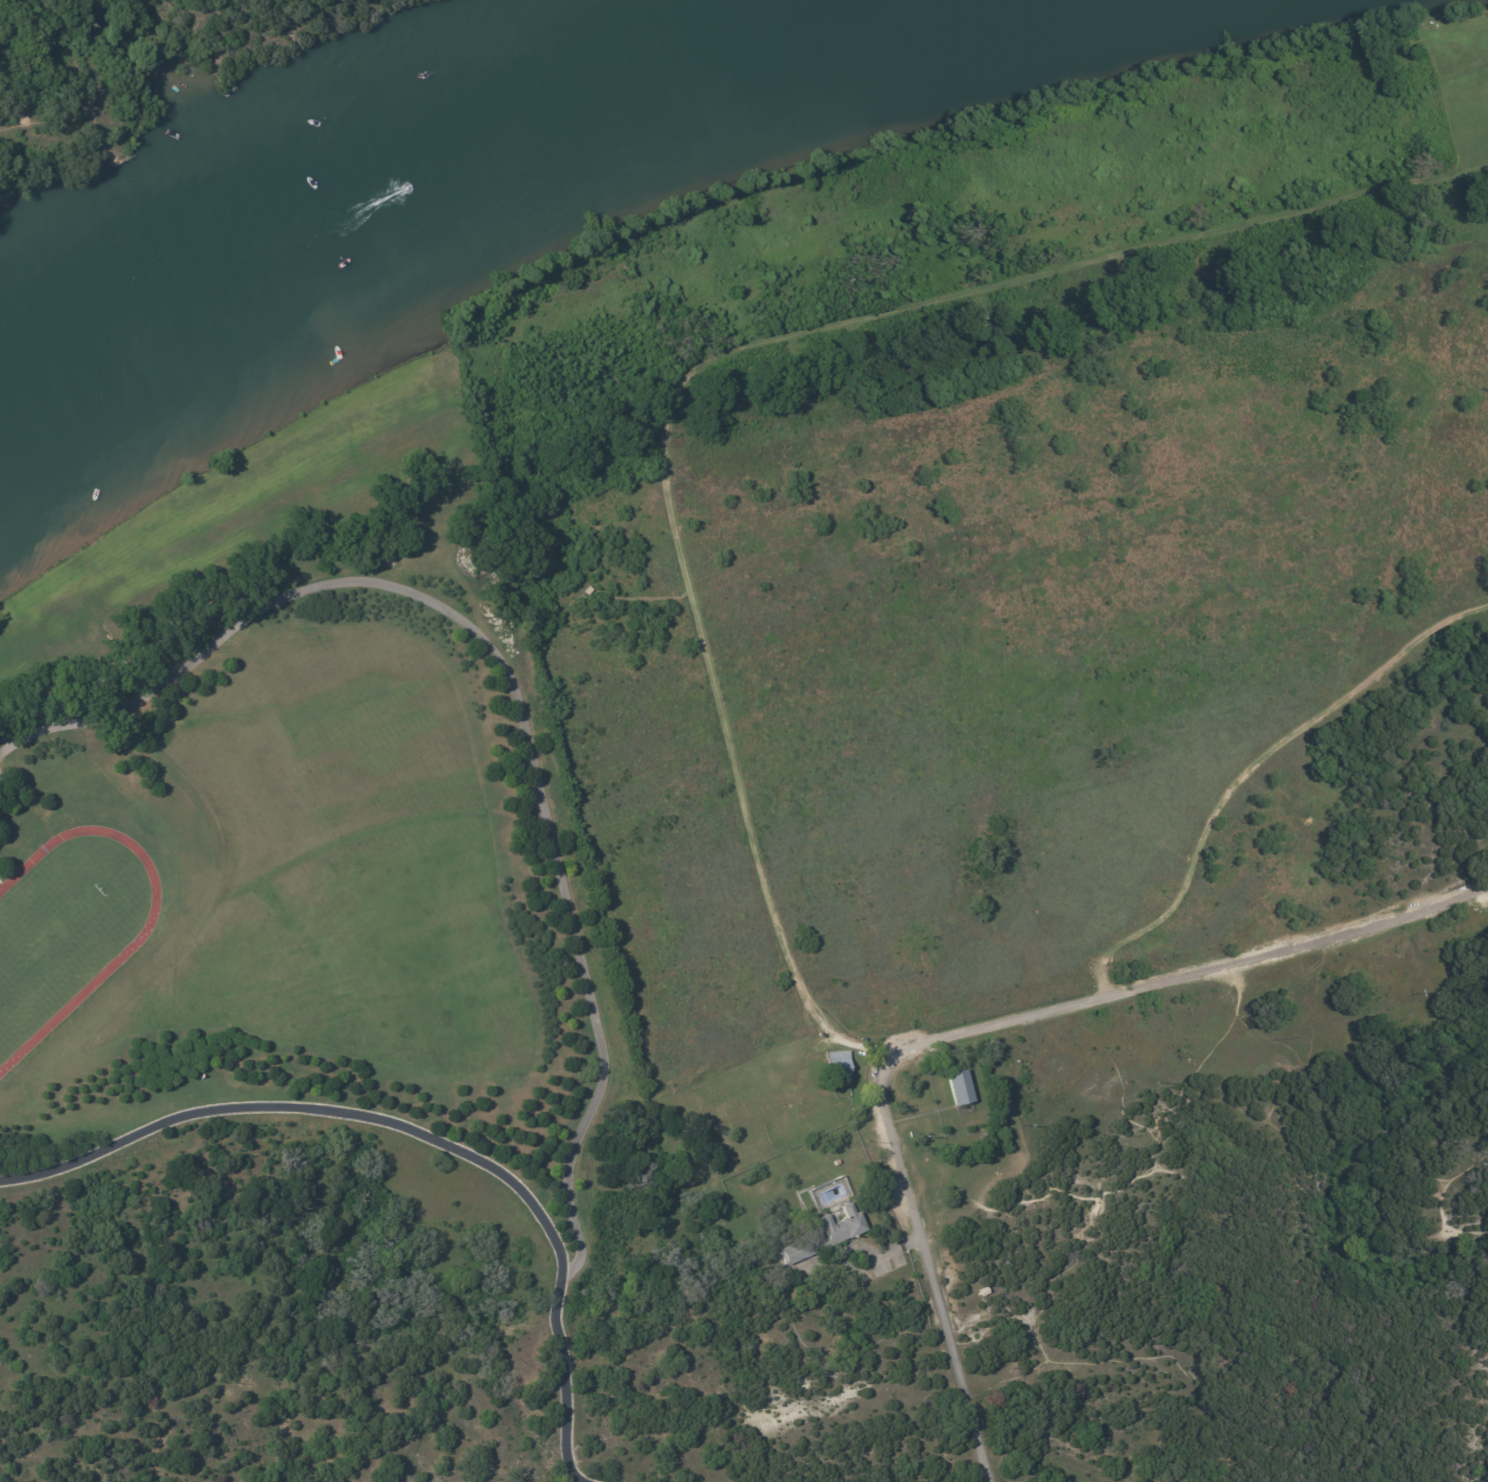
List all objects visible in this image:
road: (76, 111)
river: (504, 166)
road: (1099, 257)
building: (586, 589)
road: (637, 597)
road: (515, 697)
road: (724, 725)
park: (1047, 763)
road: (1248, 770)
track: (67, 936)
park: (51, 947)
road: (976, 1030)
building: (837, 1068)
road: (1169, 1071)
building: (958, 1089)
building: (983, 1136)
road: (414, 1139)
building: (836, 1164)
road: (1447, 1190)
road: (1240, 1210)
building: (841, 1234)
building: (984, 1292)

